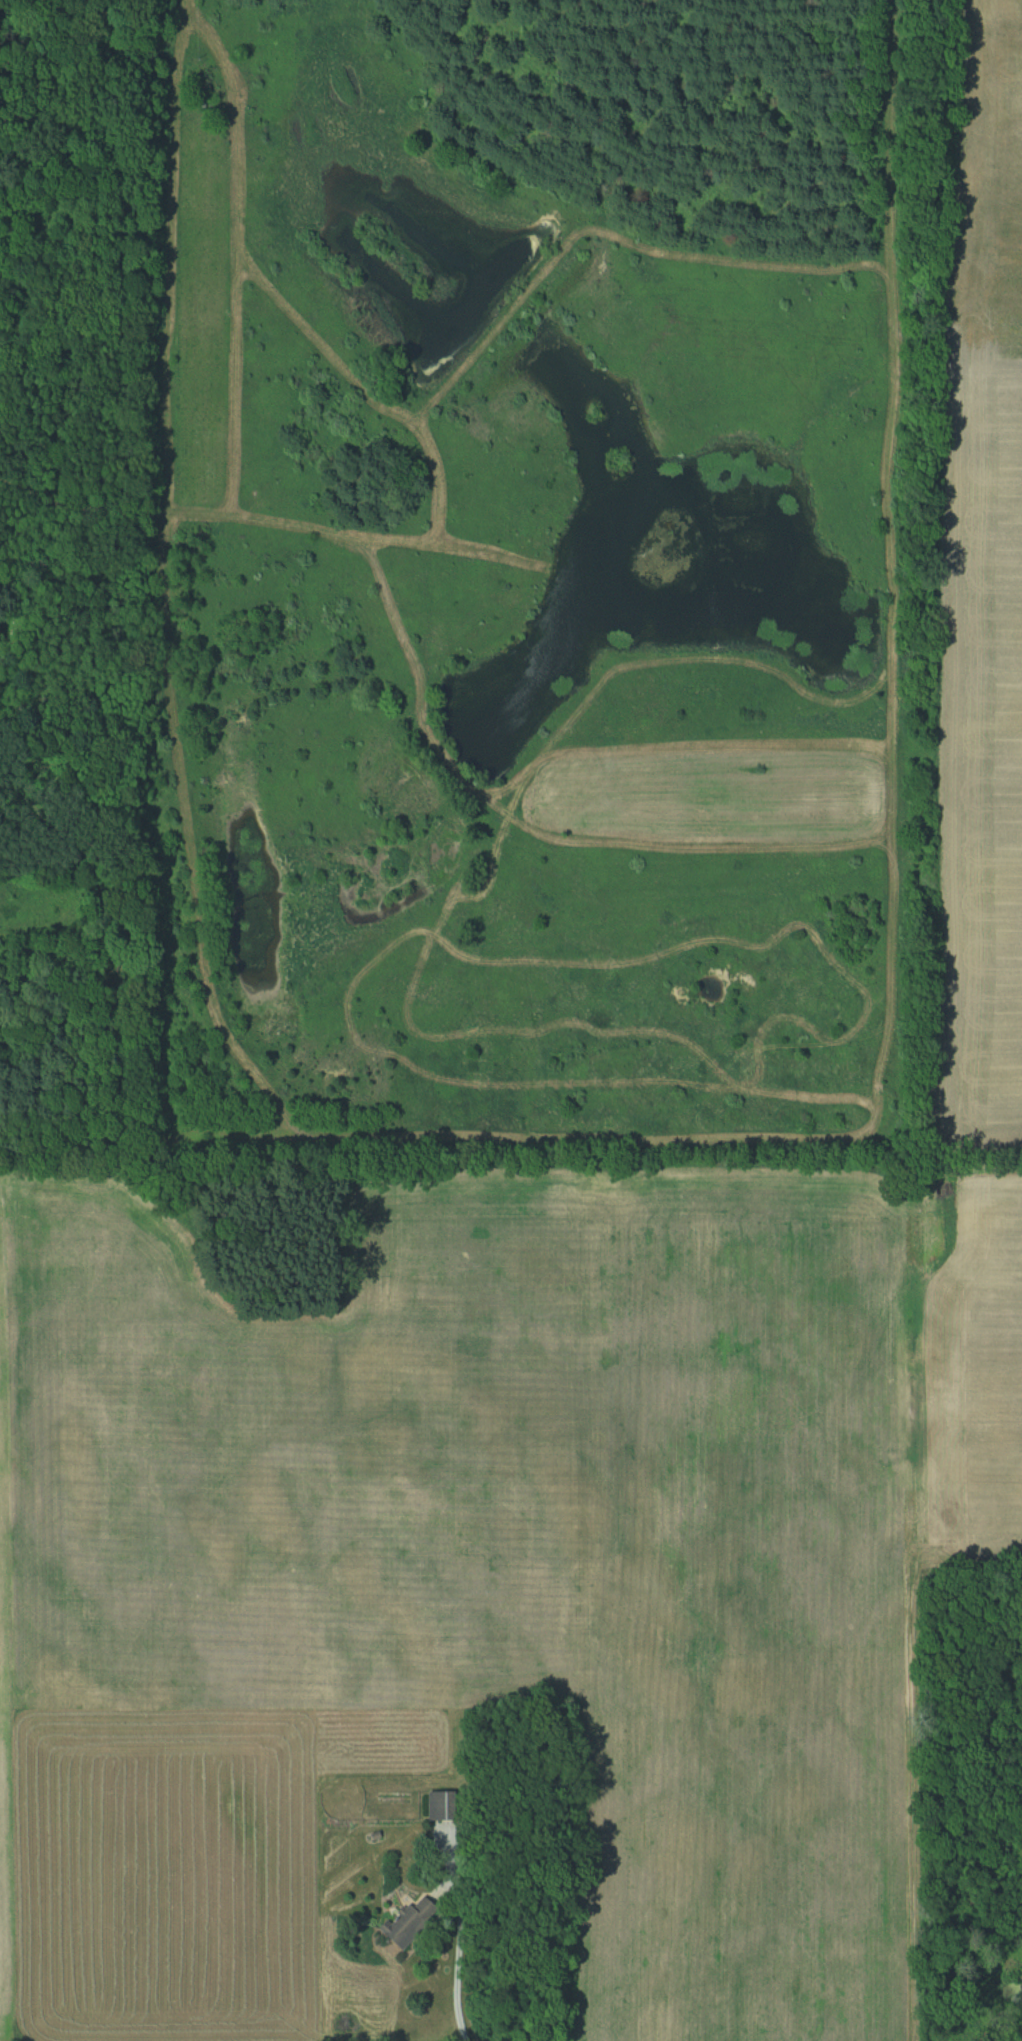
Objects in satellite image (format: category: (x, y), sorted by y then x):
building: (444, 1804)
building: (412, 1921)
road: (457, 1958)

